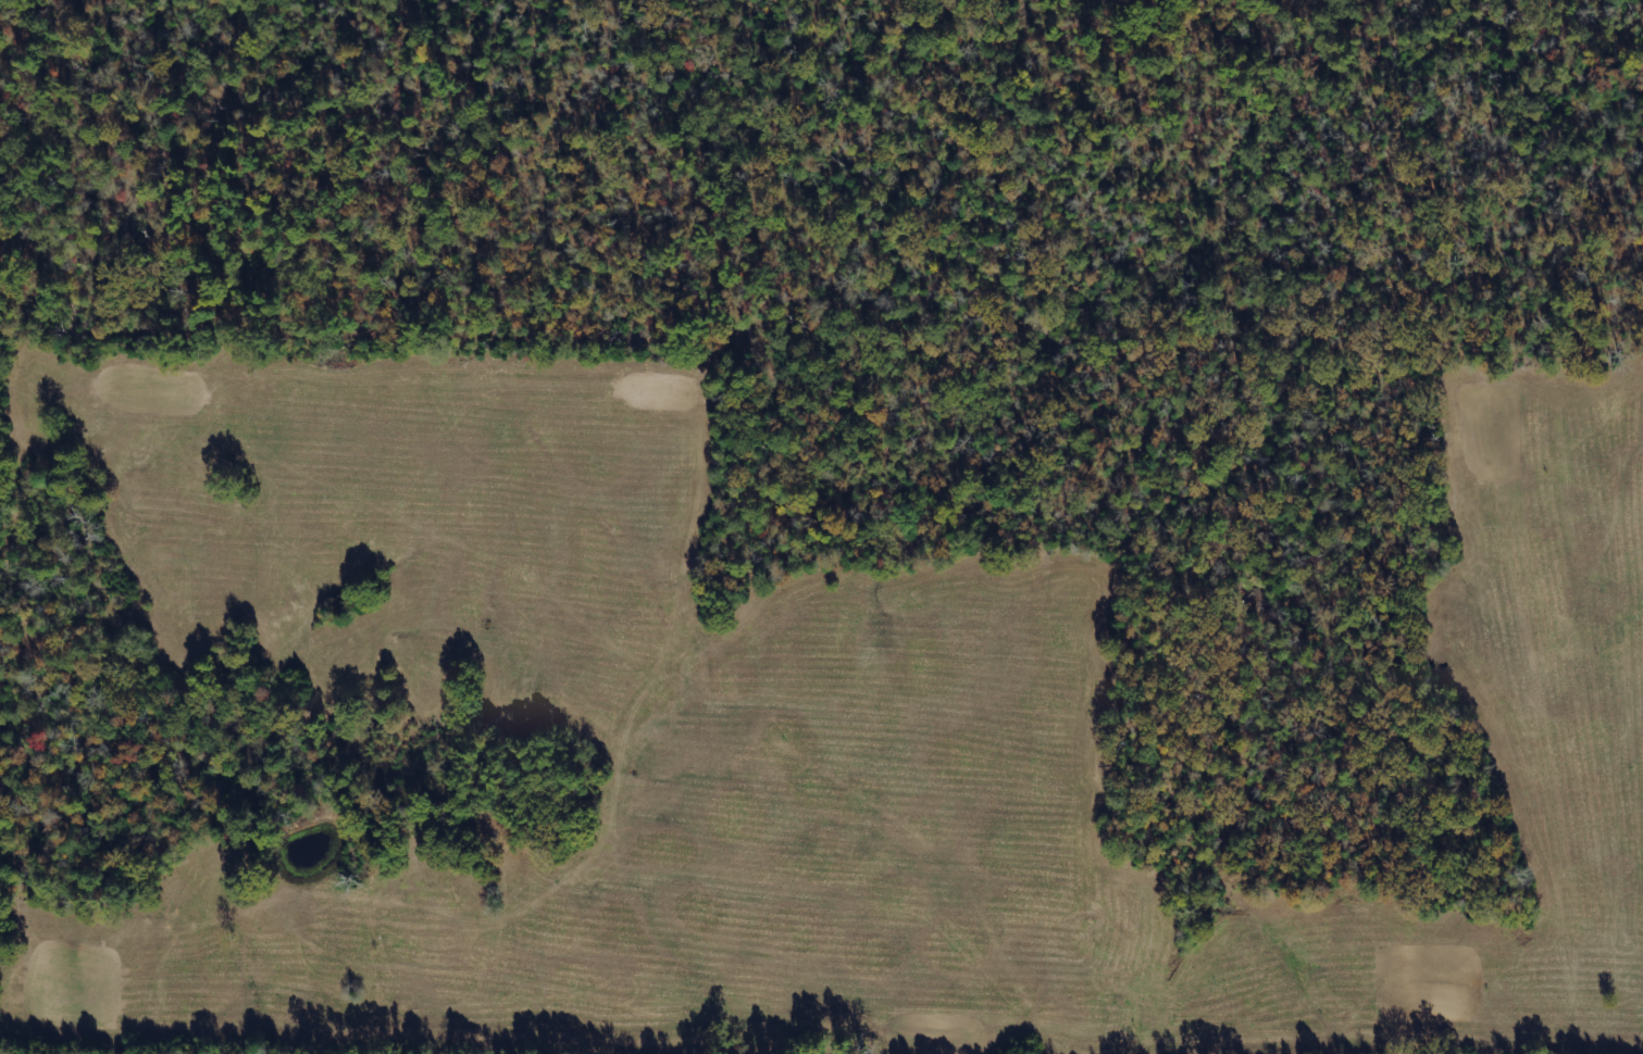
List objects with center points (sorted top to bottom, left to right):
road: (1330, 1005)
road: (2, 1052)

